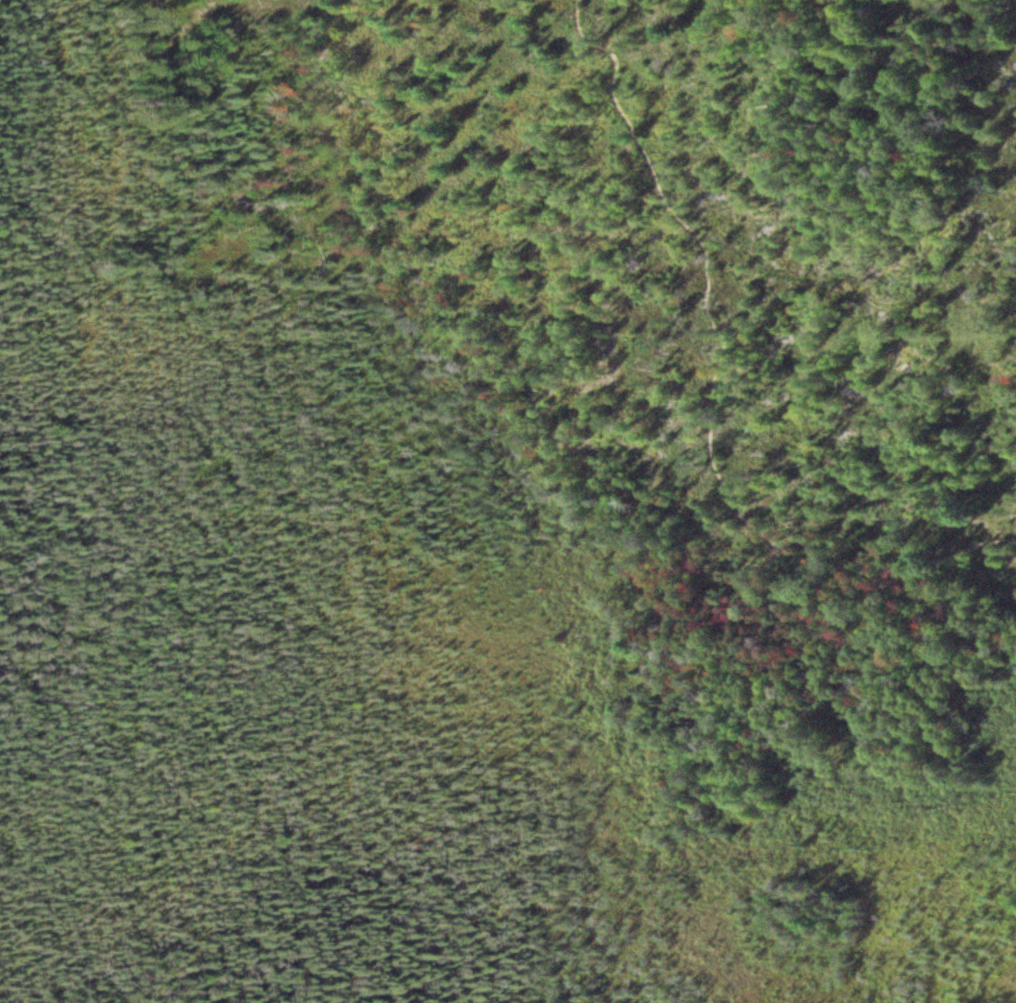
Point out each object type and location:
road: (707, 395)

